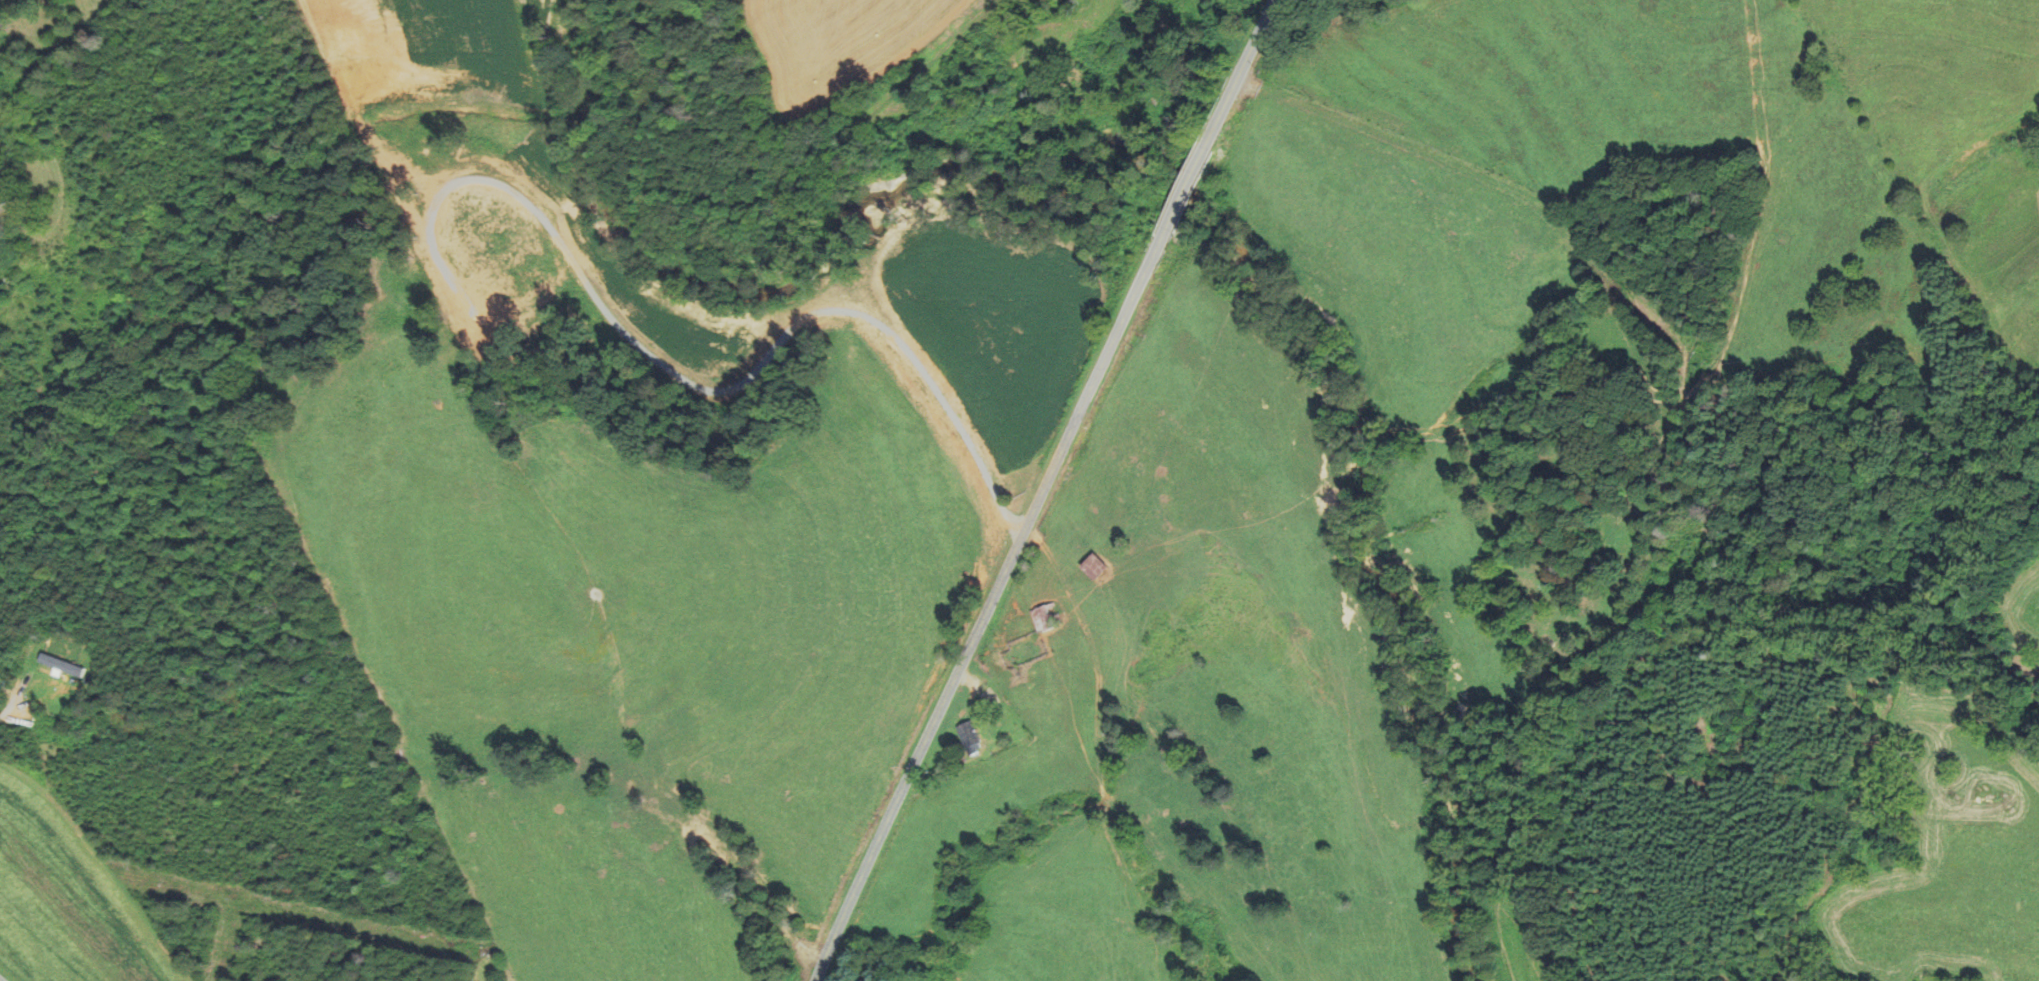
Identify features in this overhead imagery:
road: (1239, 73)
road: (1186, 187)
building: (2, 198)
building: (1099, 566)
road: (992, 605)
building: (1047, 617)
road: (17, 694)
building: (971, 736)

